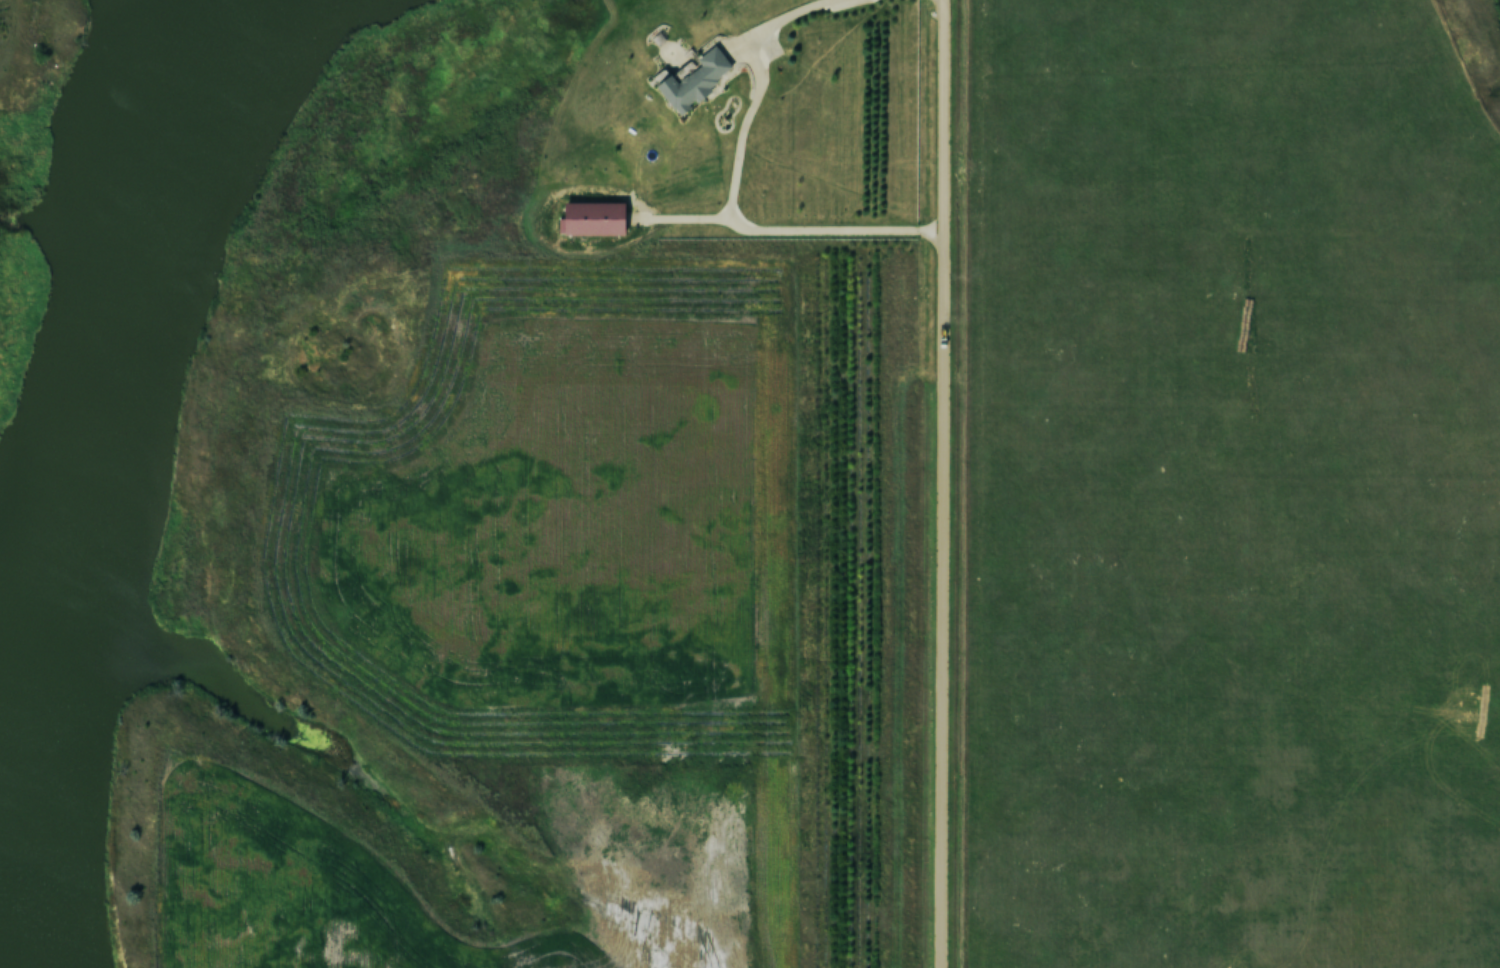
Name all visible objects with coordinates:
building: (695, 79)
building: (593, 217)
river: (75, 457)
road: (943, 484)

